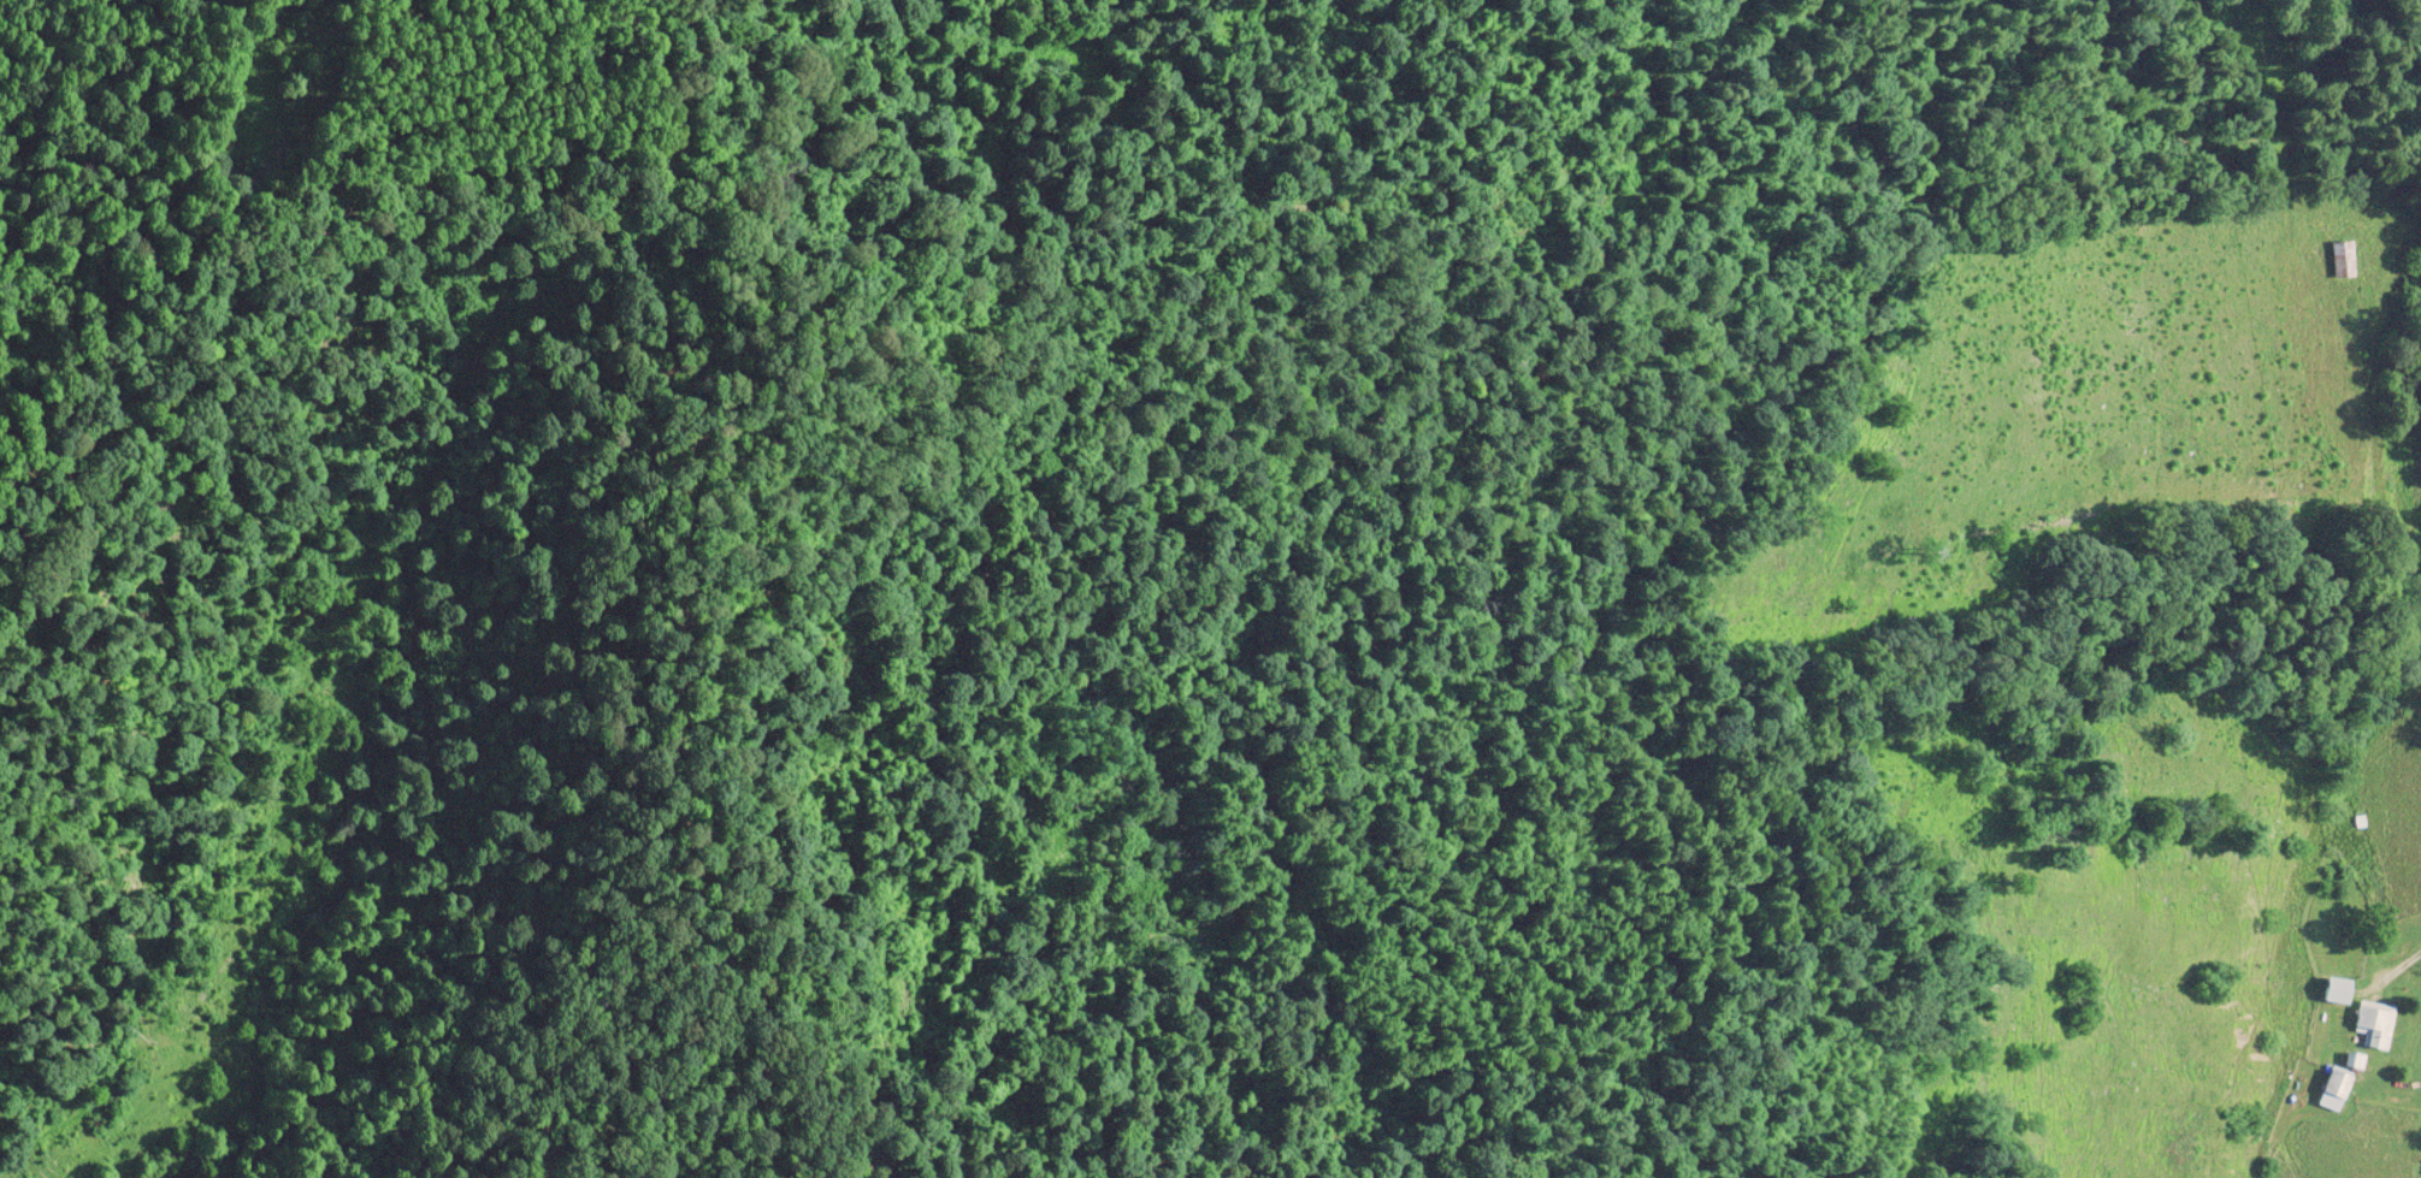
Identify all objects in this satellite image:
building: (2342, 256)
building: (2336, 988)
building: (2374, 1022)
building: (2334, 1087)

